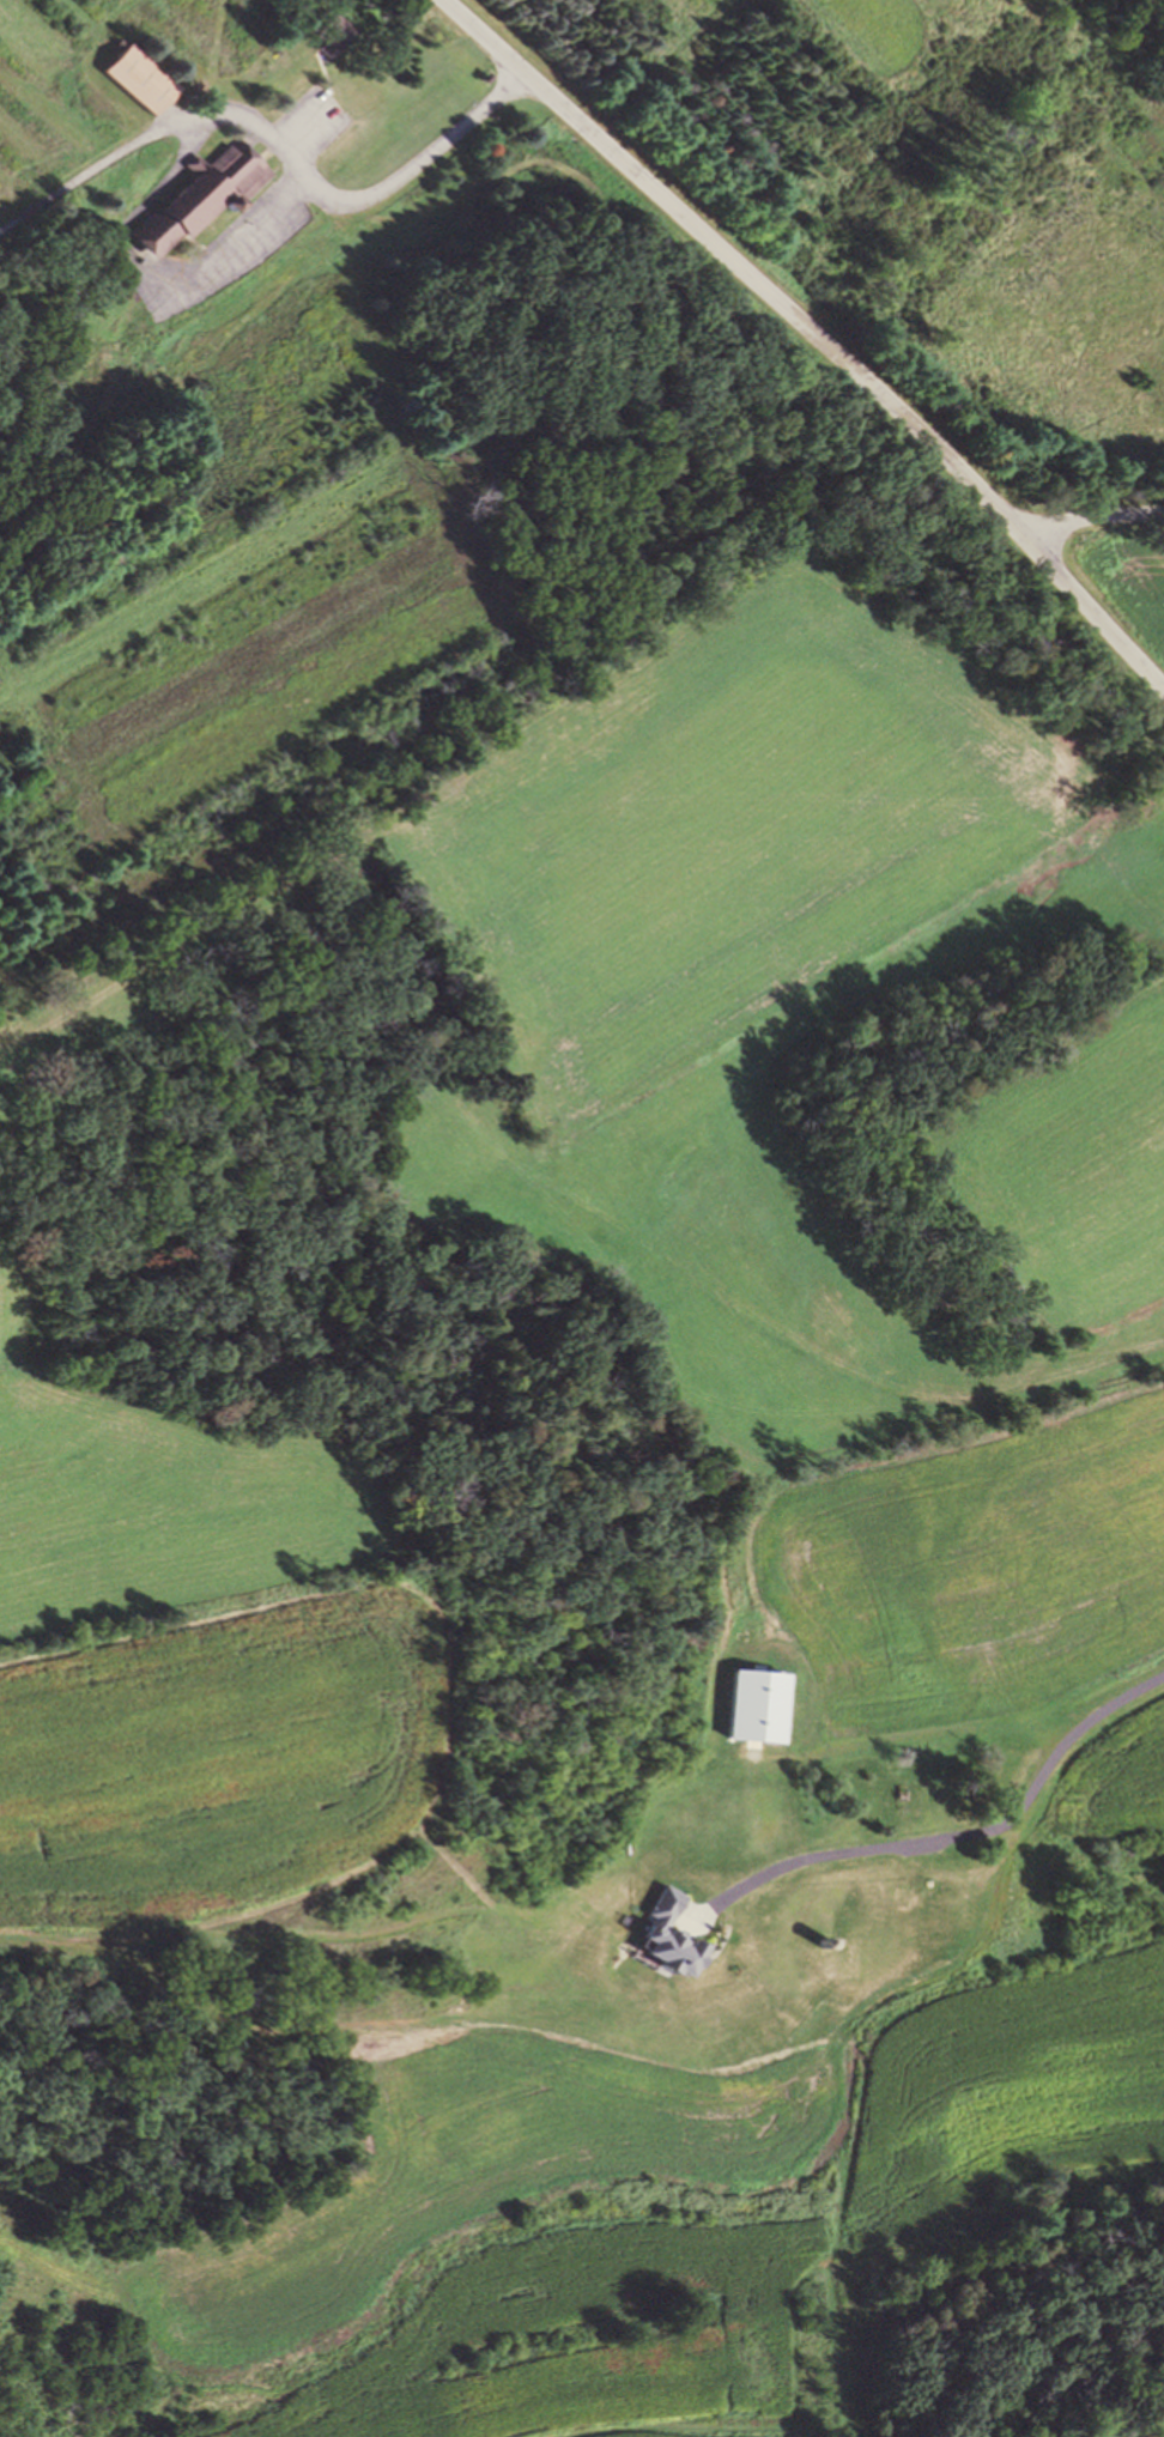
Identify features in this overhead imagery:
building: (331, 25)
road: (654, 65)
building: (148, 81)
road: (274, 147)
building: (189, 205)
road: (139, 275)
road: (812, 335)
road: (1090, 519)
road: (1065, 1756)
building: (908, 1800)
building: (1004, 1904)
road: (550, 1938)
building: (850, 1938)

